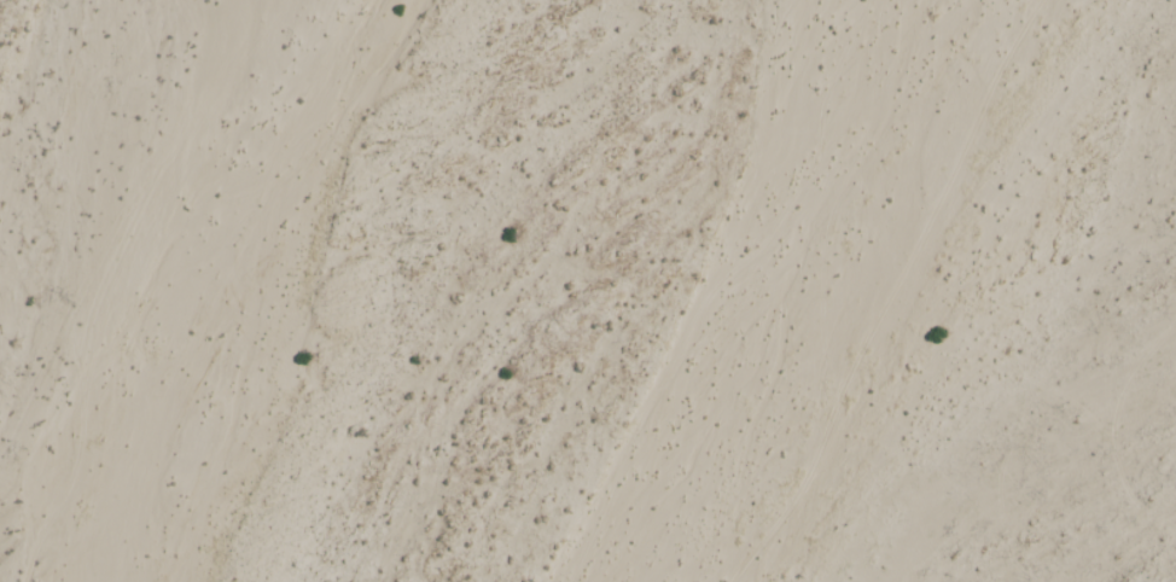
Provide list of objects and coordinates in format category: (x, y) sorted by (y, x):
river: (971, 354)

